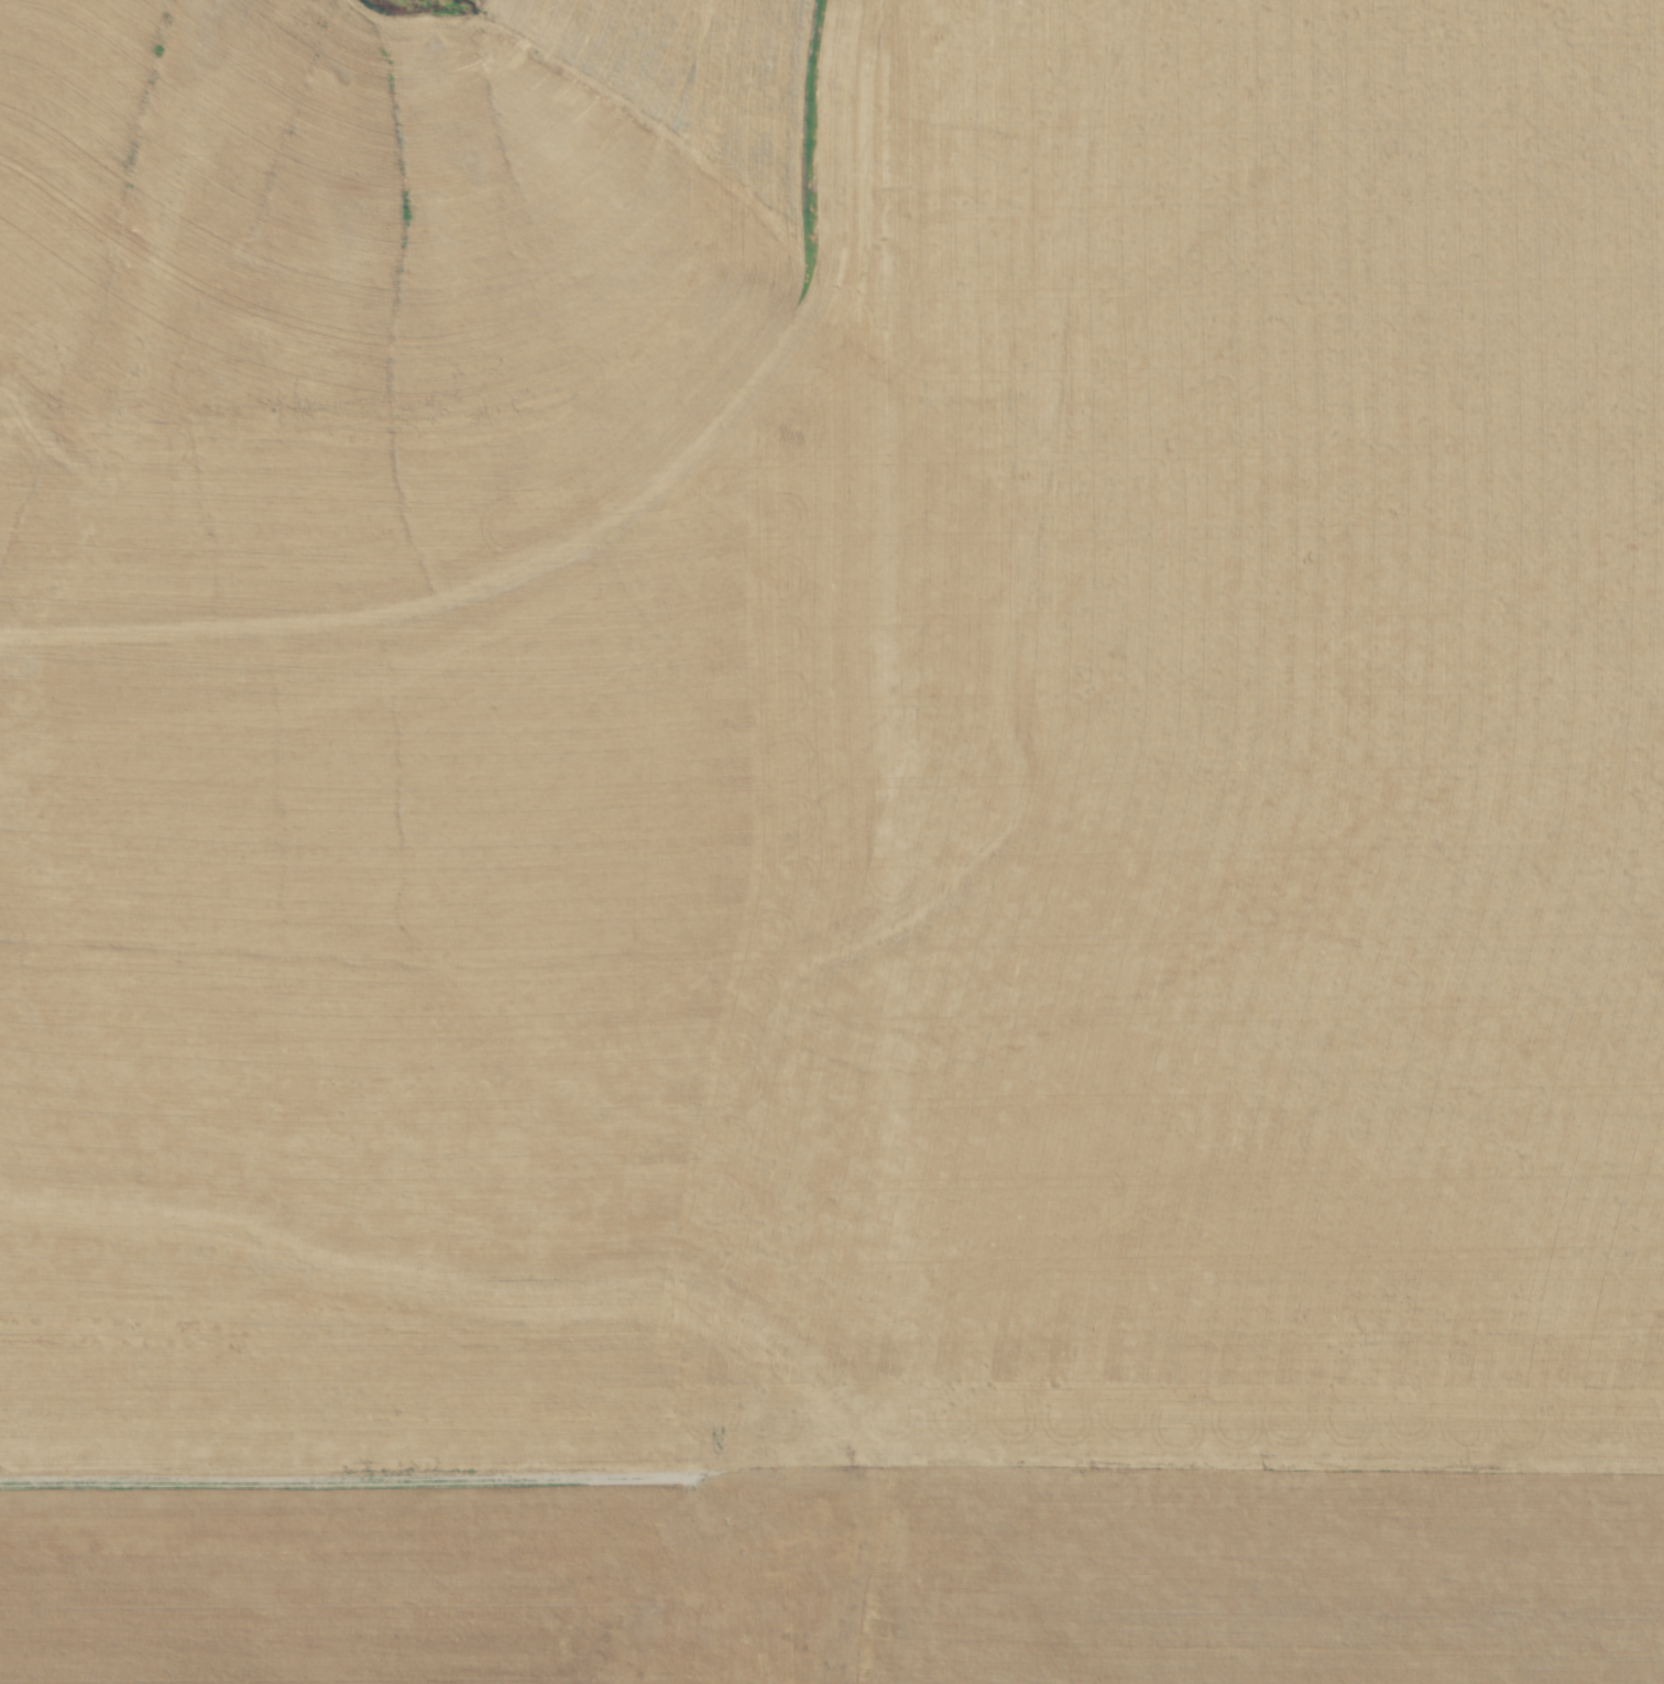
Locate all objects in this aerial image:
road: (360, 1476)

